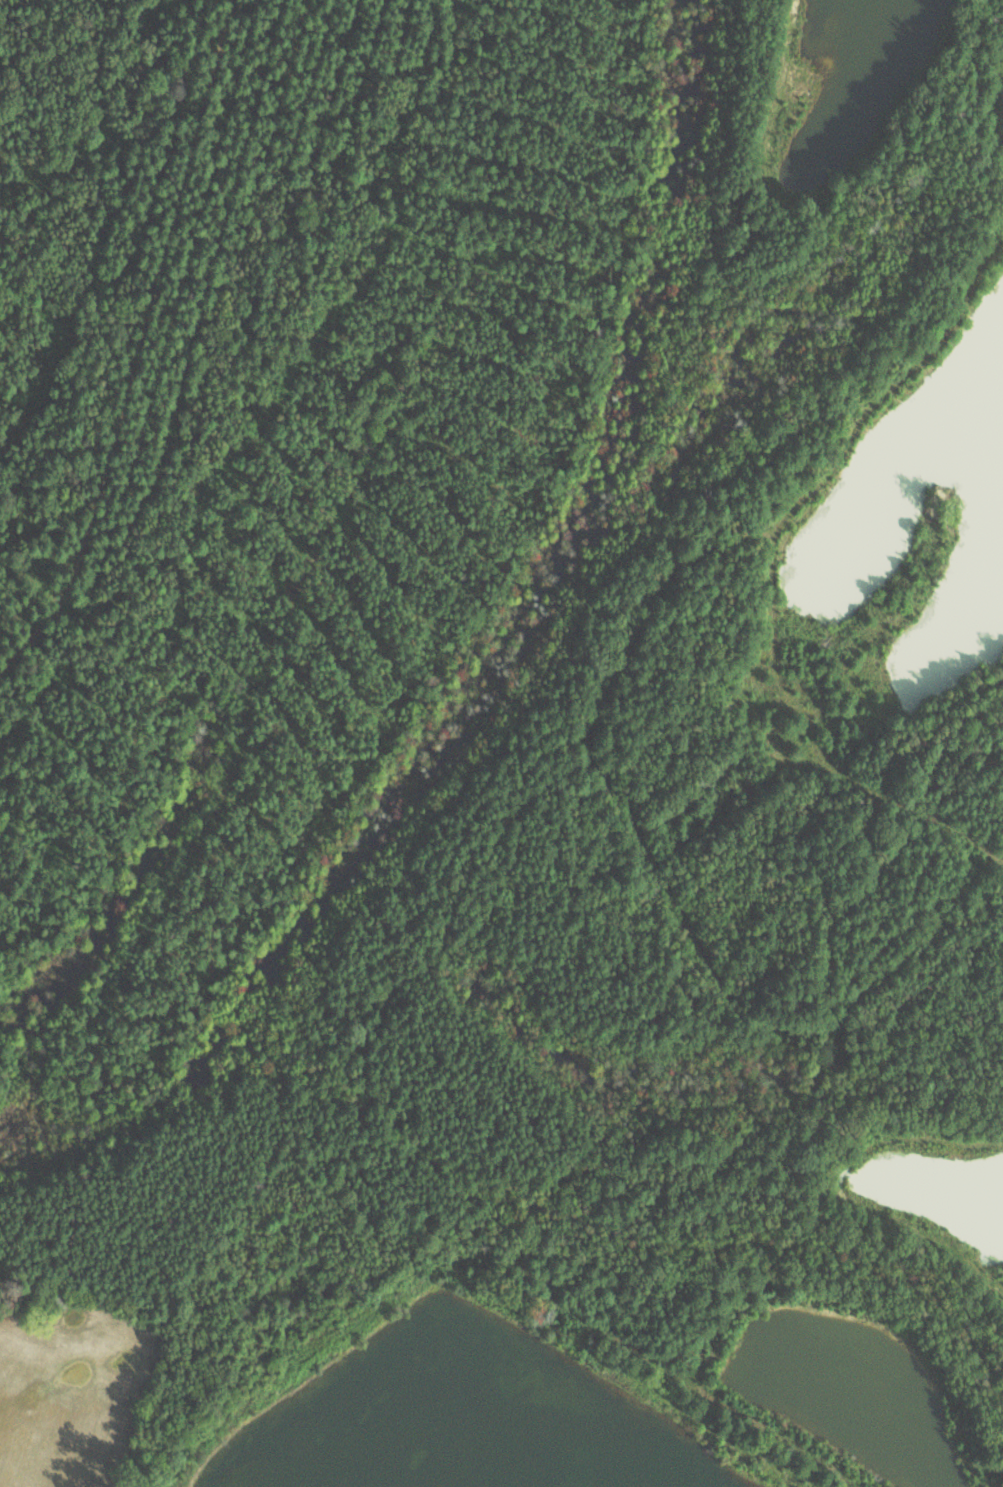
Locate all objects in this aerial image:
crop: (71, 1393)

